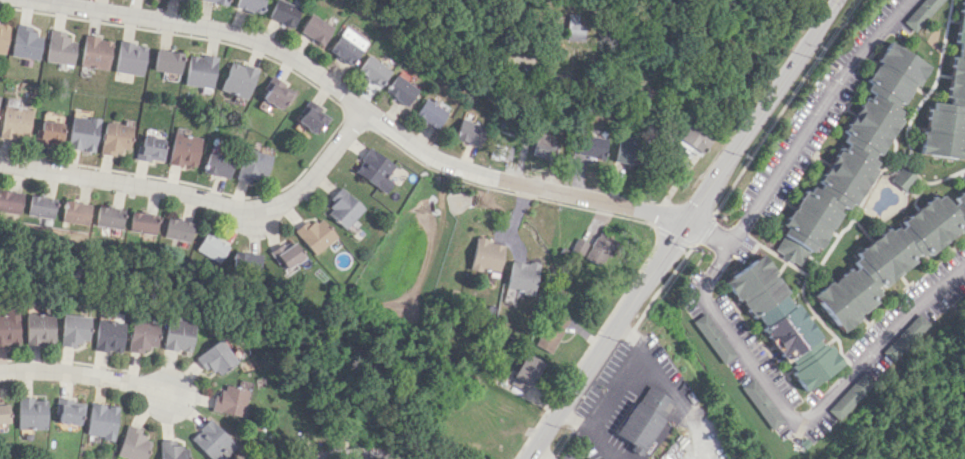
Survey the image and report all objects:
building: (217, 1)
building: (250, 5)
building: (283, 12)
building: (919, 13)
road: (823, 18)
building: (315, 28)
building: (569, 28)
building: (4, 36)
building: (28, 43)
building: (346, 45)
building: (62, 47)
building: (97, 52)
building: (132, 58)
building: (168, 61)
building: (372, 70)
building: (201, 71)
building: (239, 79)
building: (400, 89)
building: (276, 93)
road: (531, 100)
road: (823, 103)
building: (948, 105)
road: (362, 110)
building: (430, 113)
building: (313, 119)
building: (16, 122)
building: (52, 130)
building: (468, 131)
building: (85, 133)
building: (694, 137)
building: (119, 138)
building: (544, 145)
building: (590, 146)
building: (154, 148)
building: (187, 150)
building: (501, 151)
building: (625, 151)
building: (851, 155)
building: (221, 164)
building: (256, 165)
building: (374, 169)
building: (903, 178)
road: (202, 196)
building: (11, 201)
building: (44, 206)
building: (345, 208)
building: (78, 212)
building: (114, 217)
building: (147, 222)
road: (268, 226)
building: (182, 229)
road: (708, 233)
building: (318, 234)
road: (733, 237)
building: (216, 246)
building: (594, 248)
road: (670, 248)
building: (486, 255)
building: (291, 256)
building: (889, 257)
building: (249, 262)
building: (780, 321)
building: (7, 327)
building: (35, 328)
building: (71, 329)
building: (550, 330)
building: (177, 334)
building: (106, 335)
building: (140, 335)
building: (712, 337)
road: (645, 355)
building: (215, 358)
building: (525, 372)
road: (85, 375)
road: (617, 390)
building: (853, 391)
building: (229, 399)
building: (760, 403)
building: (64, 411)
building: (26, 413)
building: (0, 414)
road: (811, 414)
building: (644, 417)
building: (97, 420)
road: (694, 421)
road: (591, 429)
building: (209, 441)
building: (129, 444)
building: (168, 450)
road: (544, 453)
road: (370, 455)

